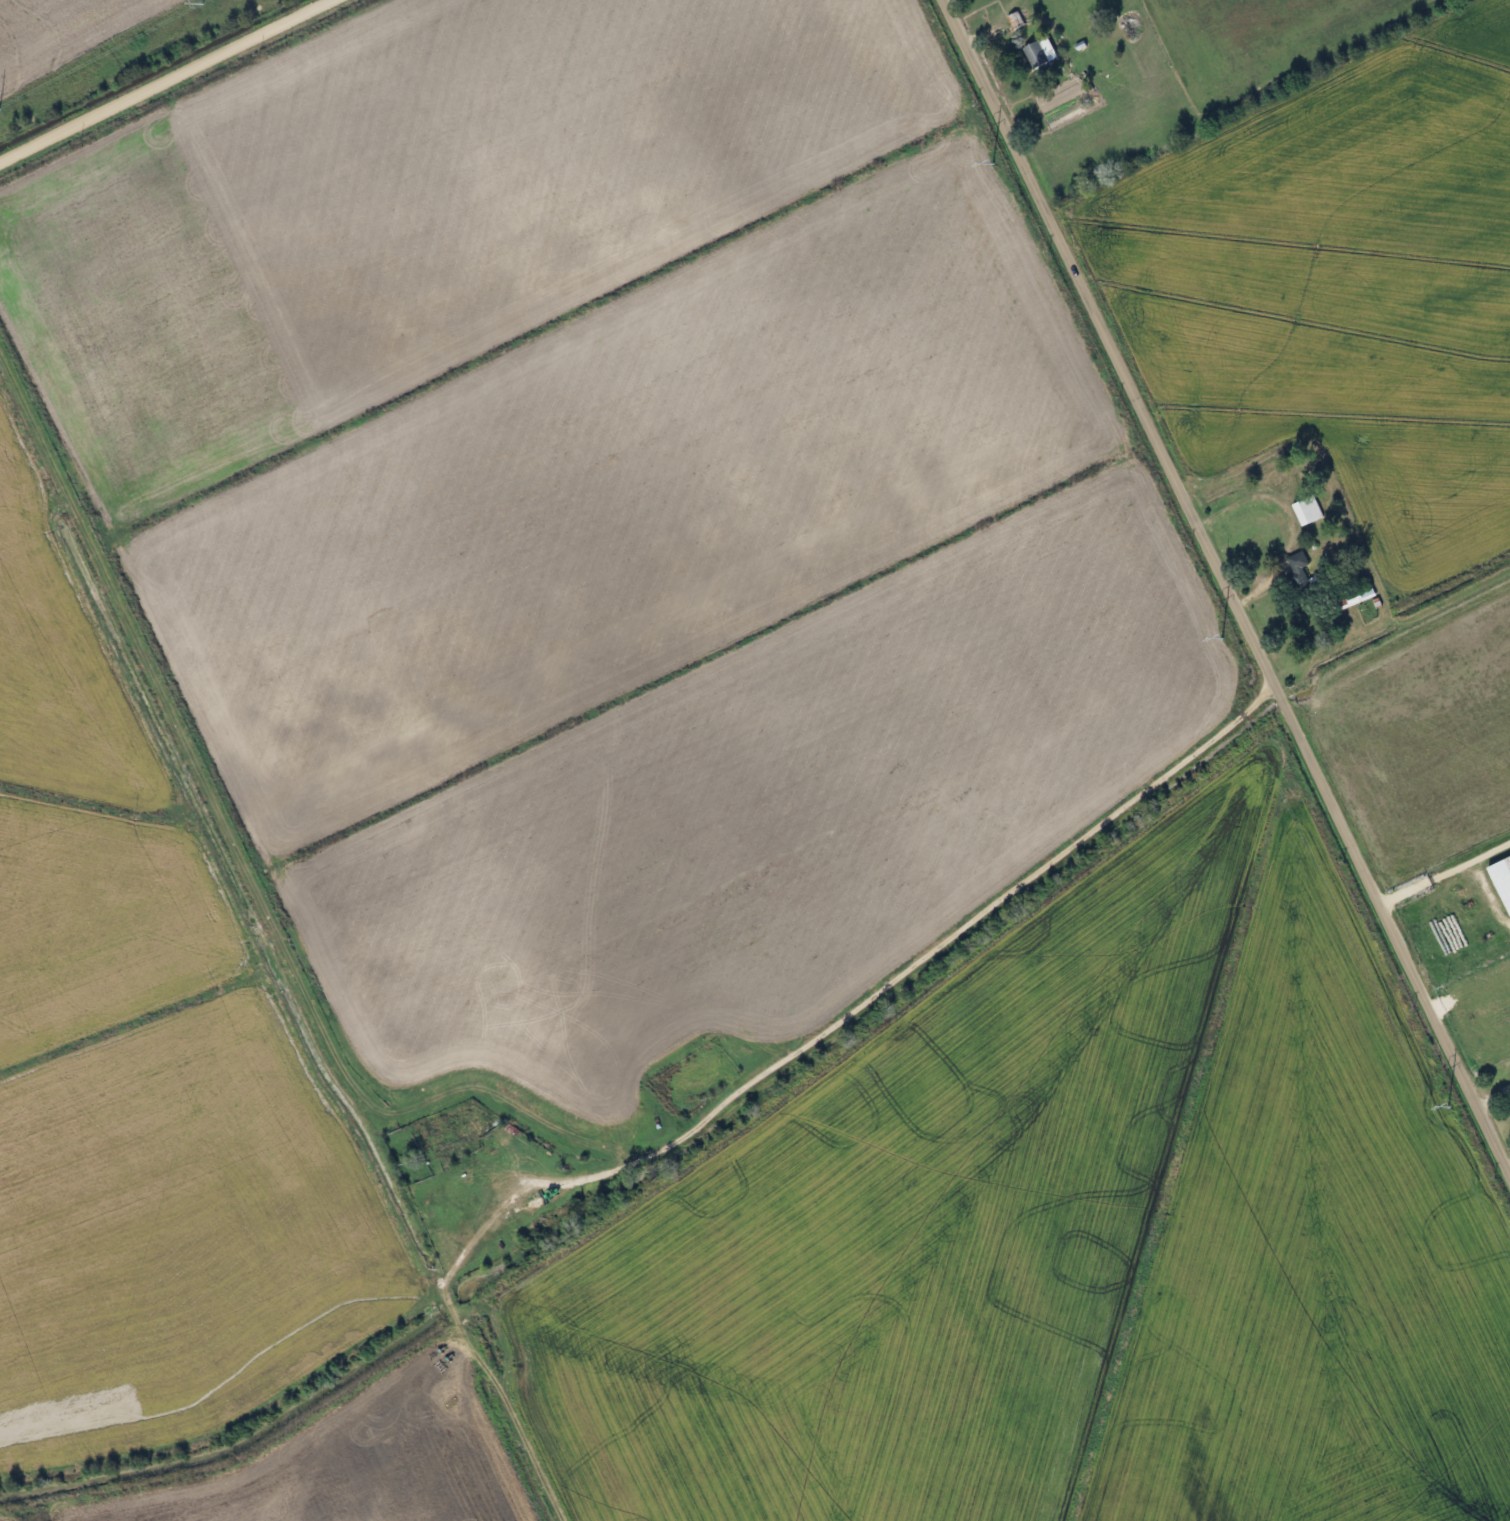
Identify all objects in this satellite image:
building: (1011, 19)
road: (990, 27)
building: (1034, 52)
road: (165, 77)
road: (1036, 100)
power tower: (991, 162)
building: (1302, 510)
building: (1293, 572)
road: (1227, 585)
building: (1349, 598)
power tower: (1220, 637)
road: (1445, 874)
building: (1499, 880)
road: (967, 929)
road: (1493, 1095)
power tower: (1447, 1106)

